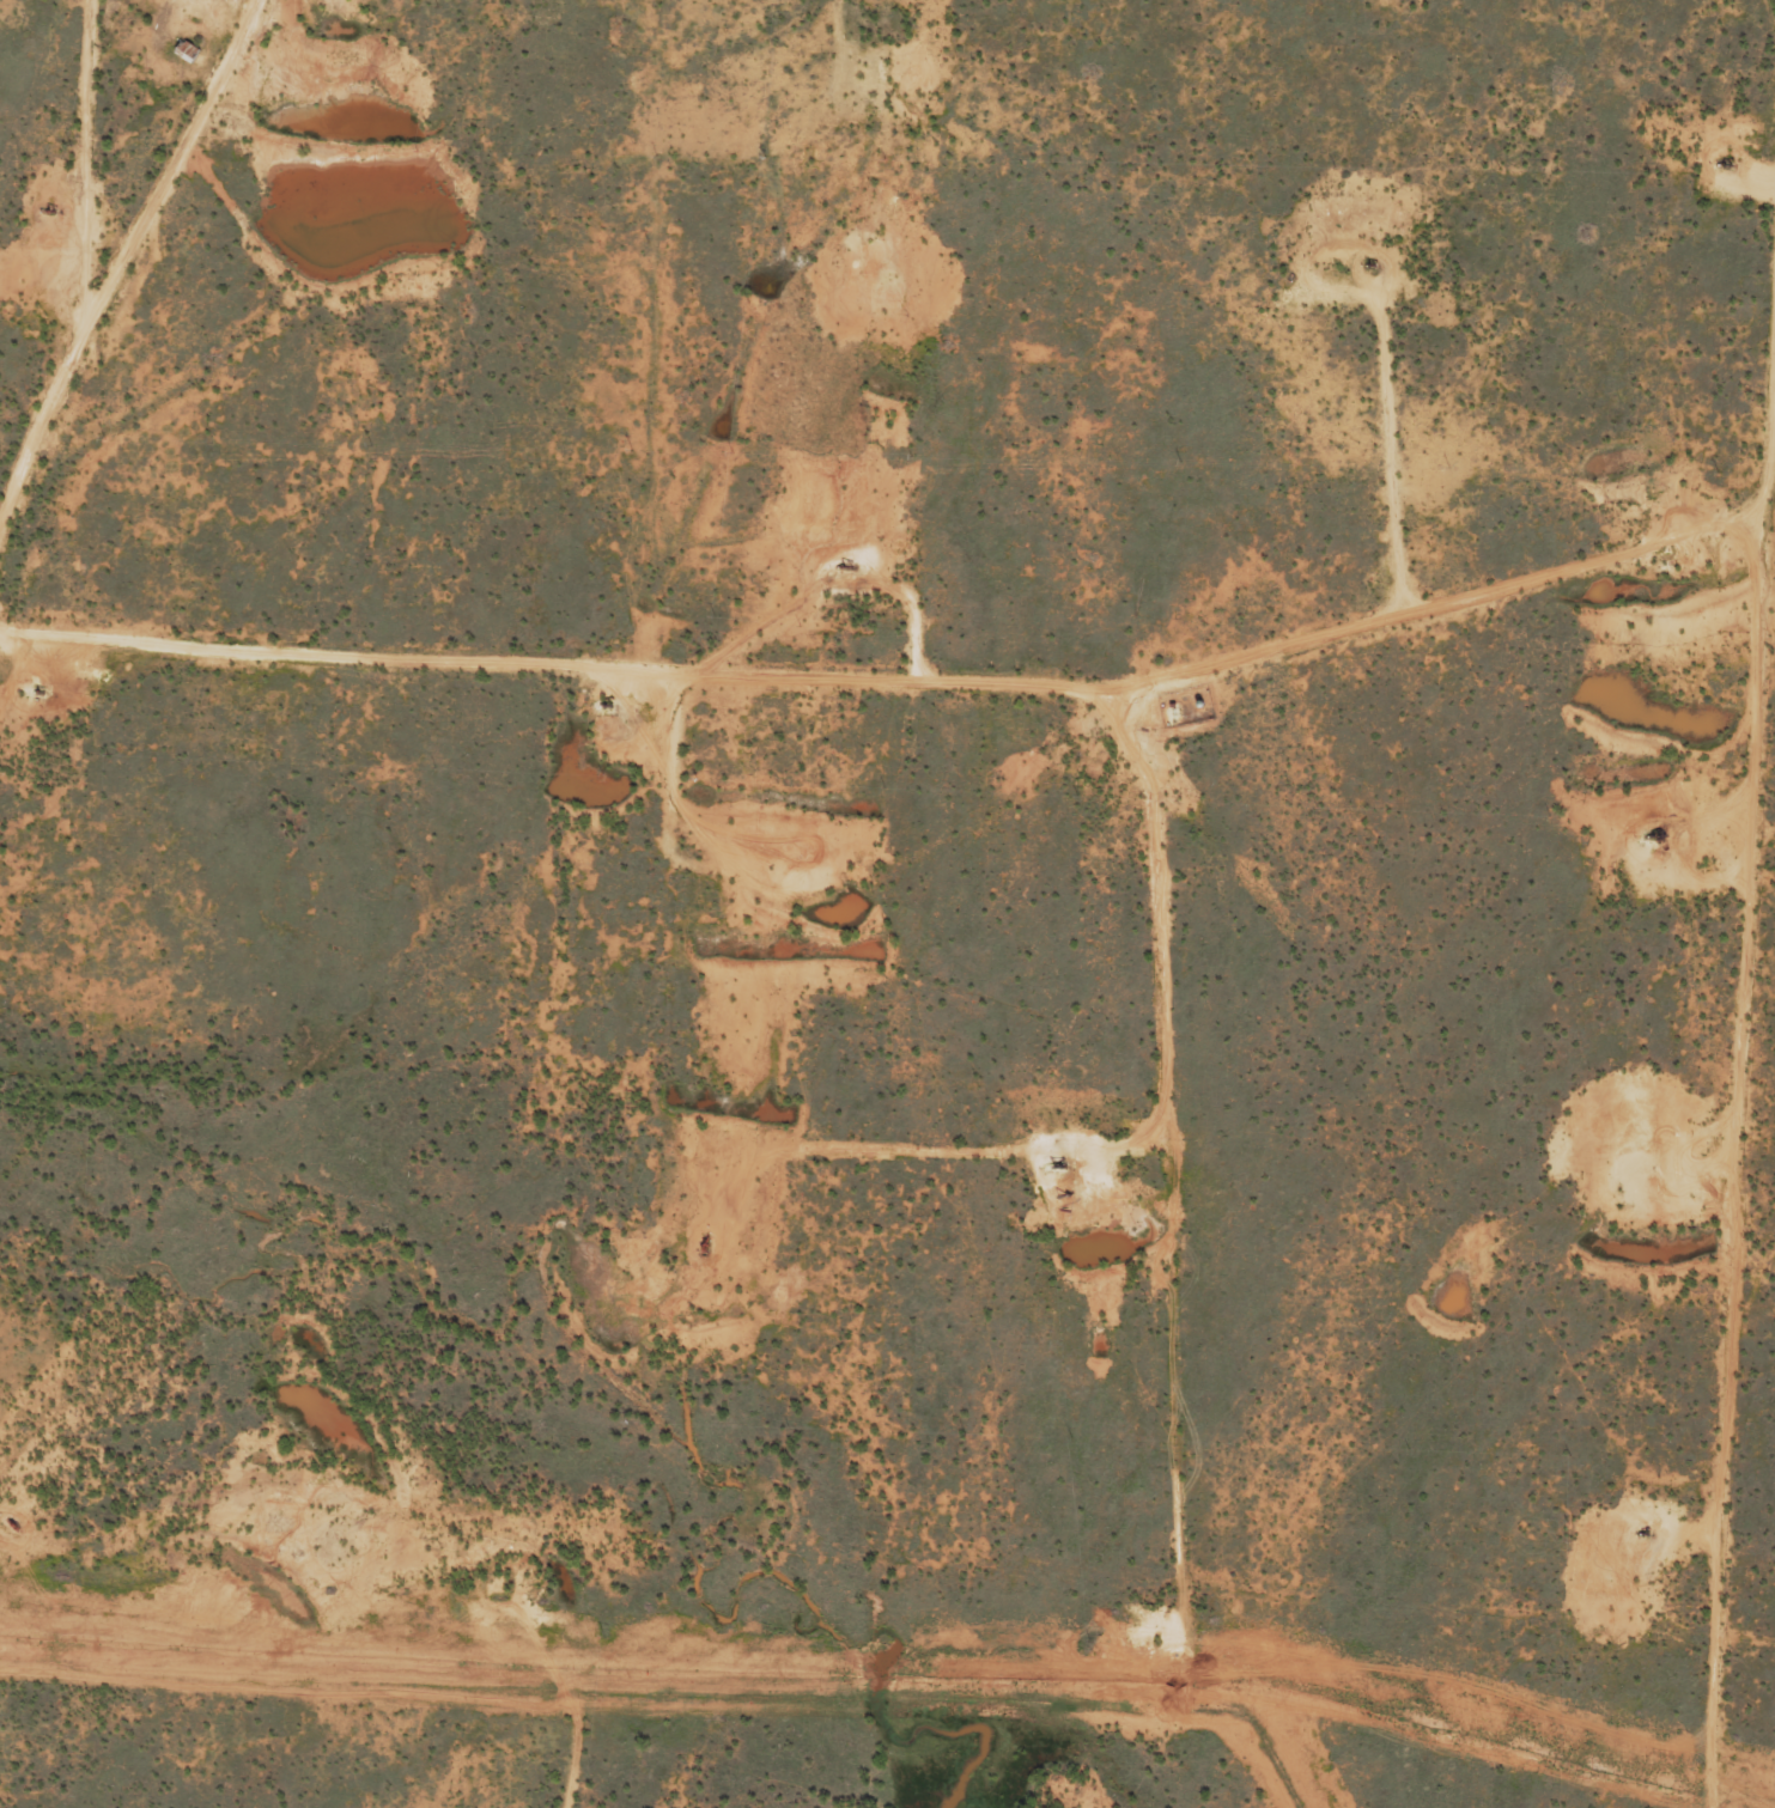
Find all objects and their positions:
building: (188, 50)
road: (626, 194)
road: (24, 479)
road: (30, 585)
road: (602, 718)
road: (658, 902)
road: (1709, 903)
road: (1171, 1261)
road: (41, 1534)
road: (34, 1599)
road: (170, 1692)

